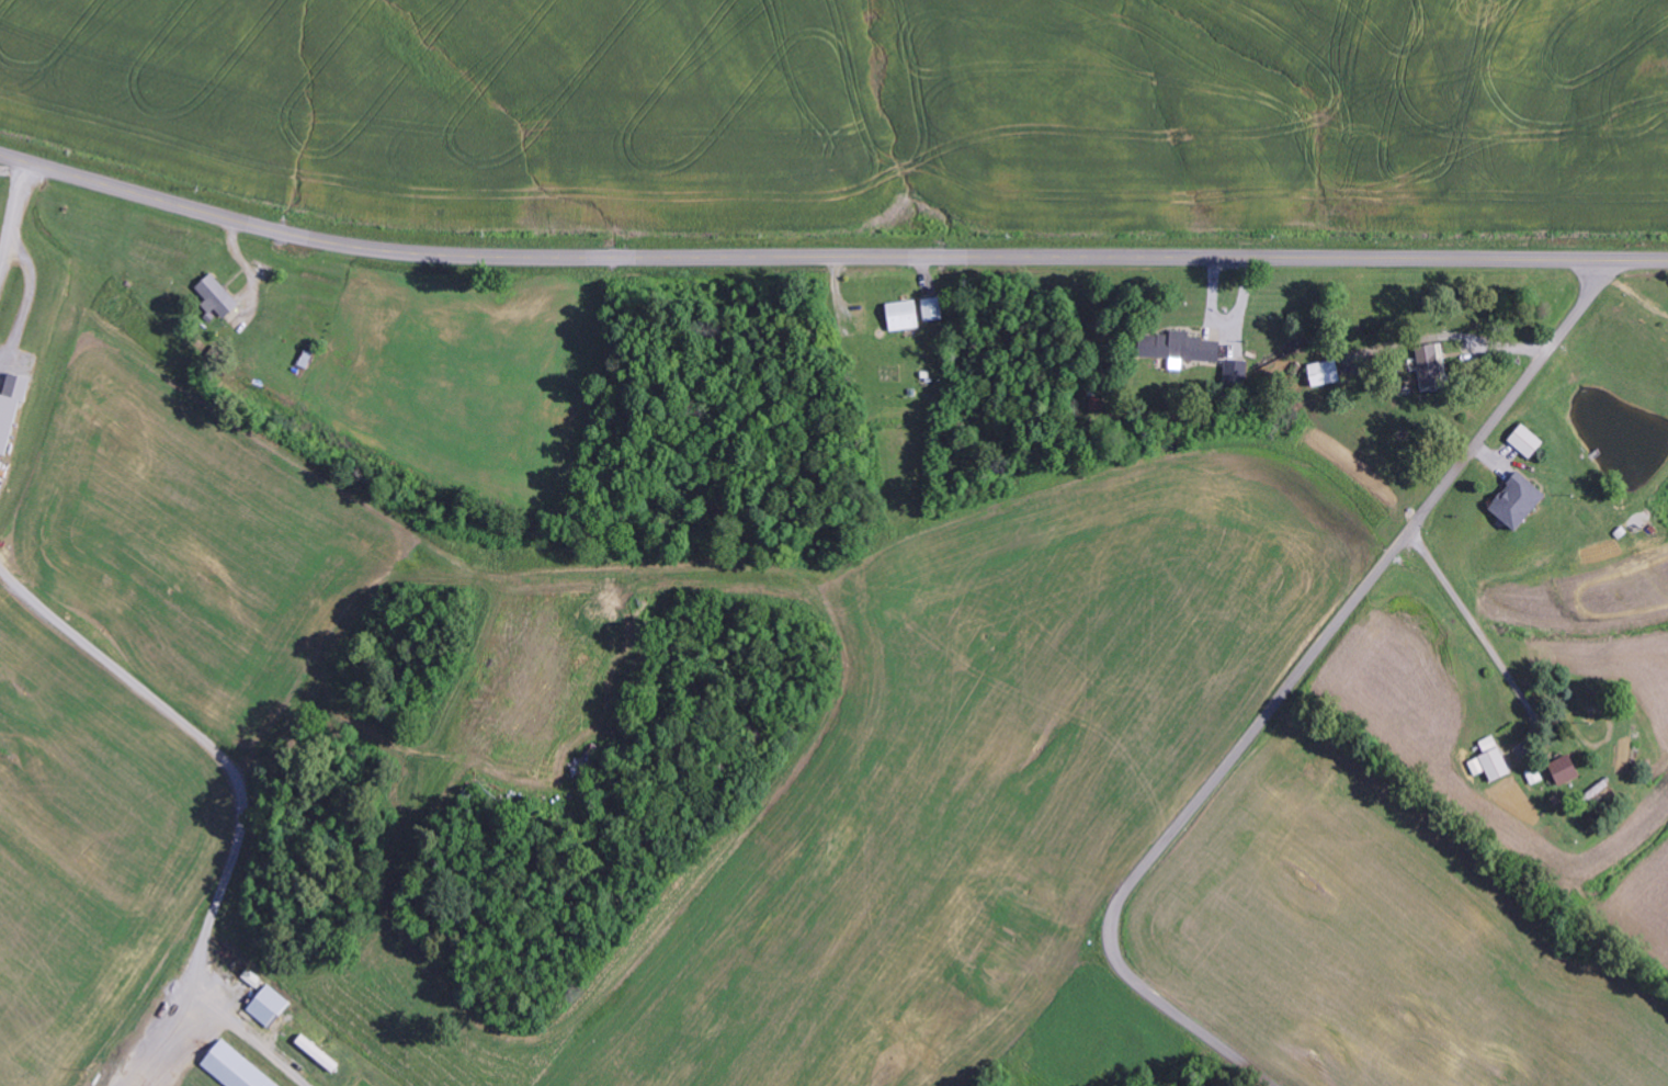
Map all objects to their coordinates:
road: (827, 257)
building: (228, 302)
building: (933, 308)
building: (903, 315)
building: (1192, 349)
building: (1428, 363)
building: (1236, 372)
building: (1321, 373)
road: (58, 377)
building: (13, 410)
building: (1525, 441)
road: (696, 463)
building: (1514, 500)
road: (1292, 682)
building: (1489, 761)
building: (1562, 770)
building: (272, 1006)
building: (322, 1053)
building: (237, 1068)

